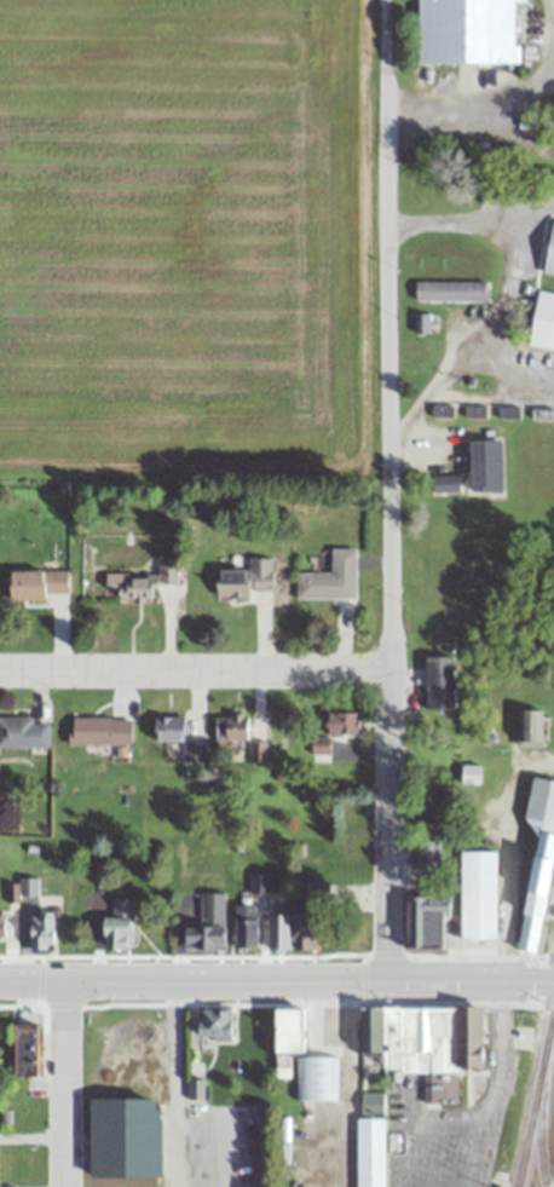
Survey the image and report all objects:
building: (467, 31)
road: (484, 106)
crop: (181, 232)
building: (549, 254)
building: (449, 290)
road: (501, 293)
building: (543, 322)
building: (486, 467)
building: (445, 485)
road: (389, 488)
building: (329, 578)
building: (246, 580)
building: (142, 582)
building: (37, 583)
road: (196, 668)
building: (439, 682)
building: (342, 724)
building: (529, 726)
building: (231, 728)
building: (102, 731)
building: (23, 732)
building: (179, 738)
building: (319, 749)
building: (256, 753)
building: (469, 774)
road: (508, 849)
building: (427, 855)
building: (538, 862)
building: (28, 886)
building: (477, 894)
building: (425, 923)
building: (207, 924)
building: (119, 926)
building: (1, 927)
building: (247, 927)
building: (41, 932)
building: (294, 933)
road: (276, 976)
building: (215, 1024)
building: (289, 1028)
building: (477, 1035)
building: (420, 1045)
building: (27, 1050)
building: (314, 1078)
road: (60, 1082)
road: (346, 1082)
road: (175, 1083)
railway: (536, 1100)
building: (244, 1130)
road: (30, 1136)
railway: (537, 1140)
building: (369, 1151)

